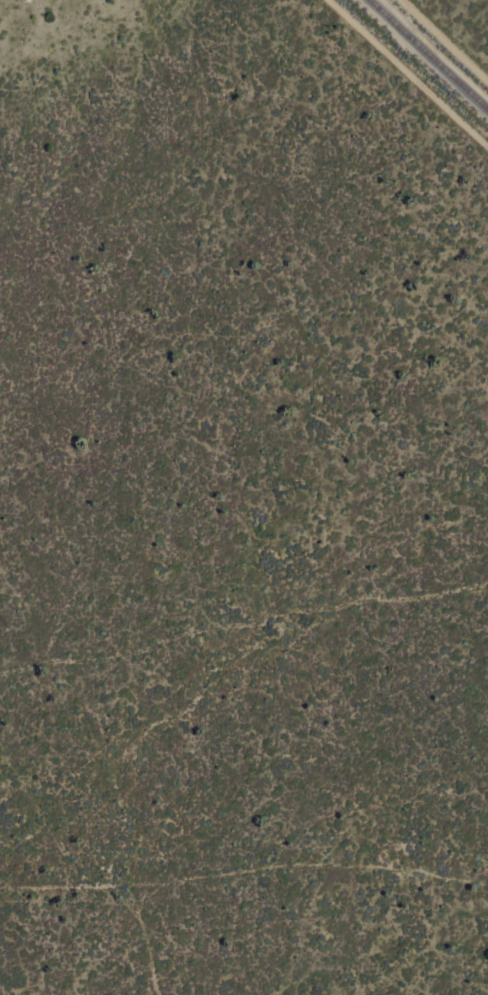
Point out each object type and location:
railway: (428, 55)

